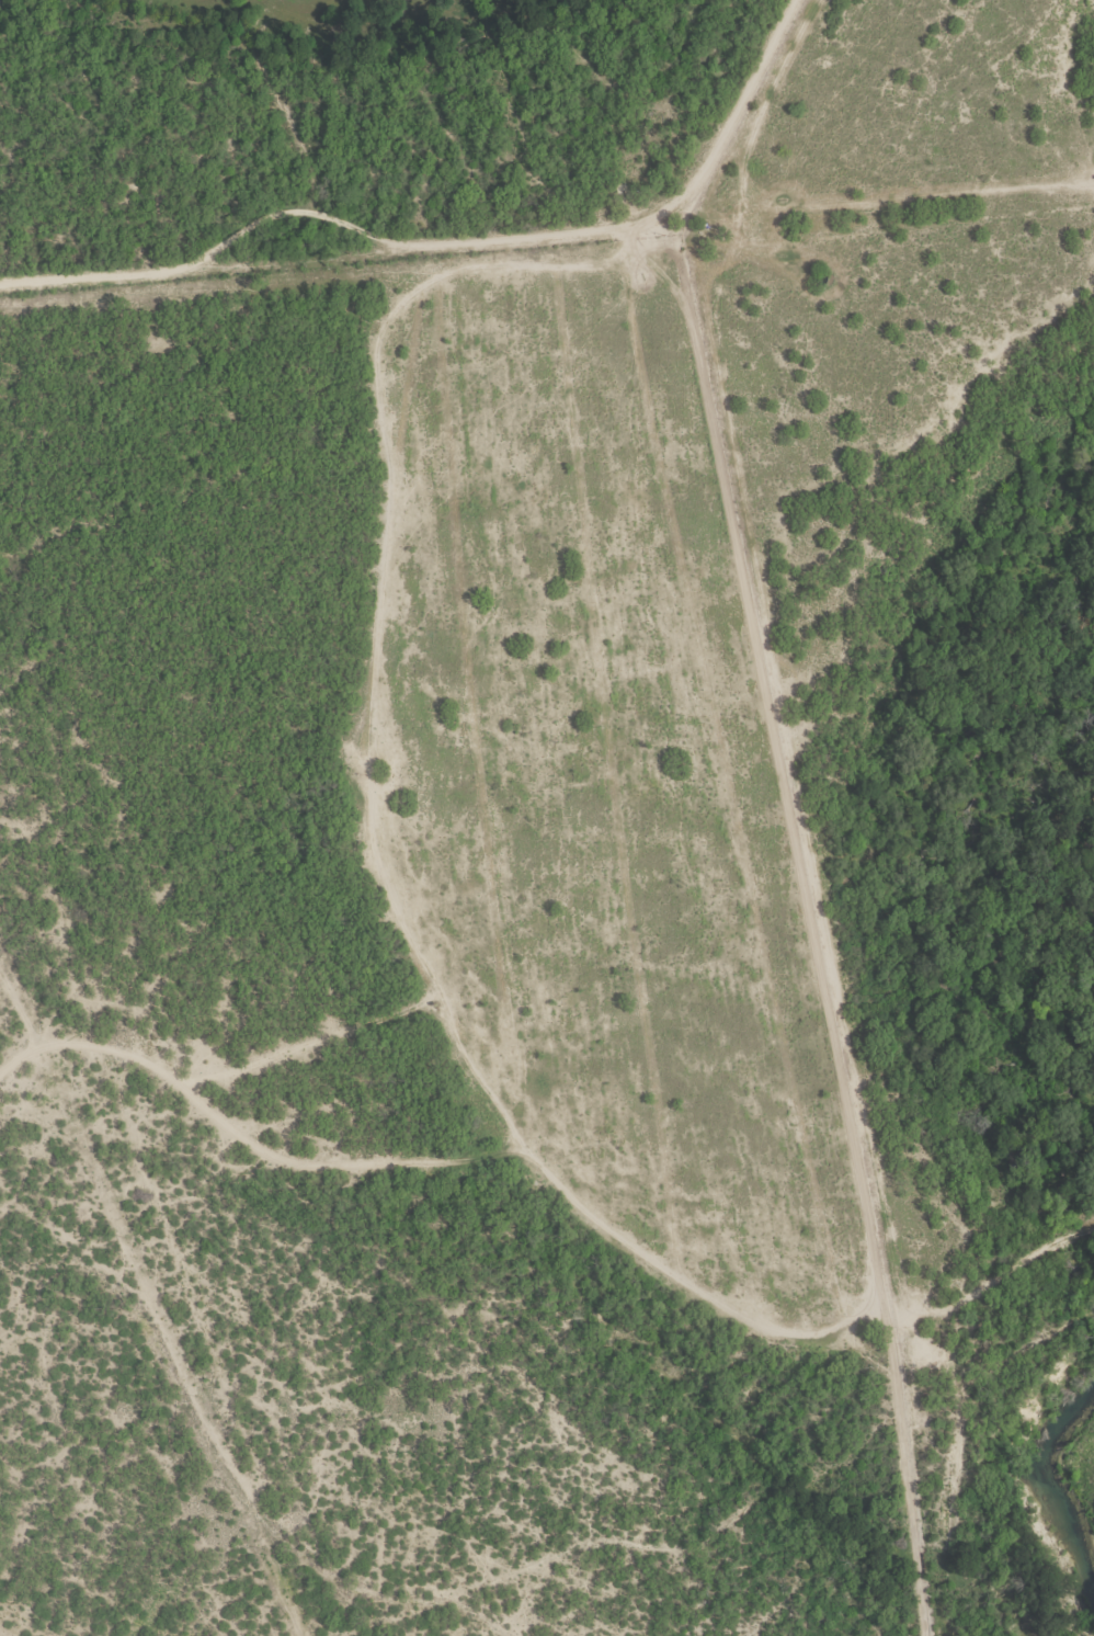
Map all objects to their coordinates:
road: (1000, 110)
road: (461, 243)
road: (445, 1159)
river: (1053, 1490)

